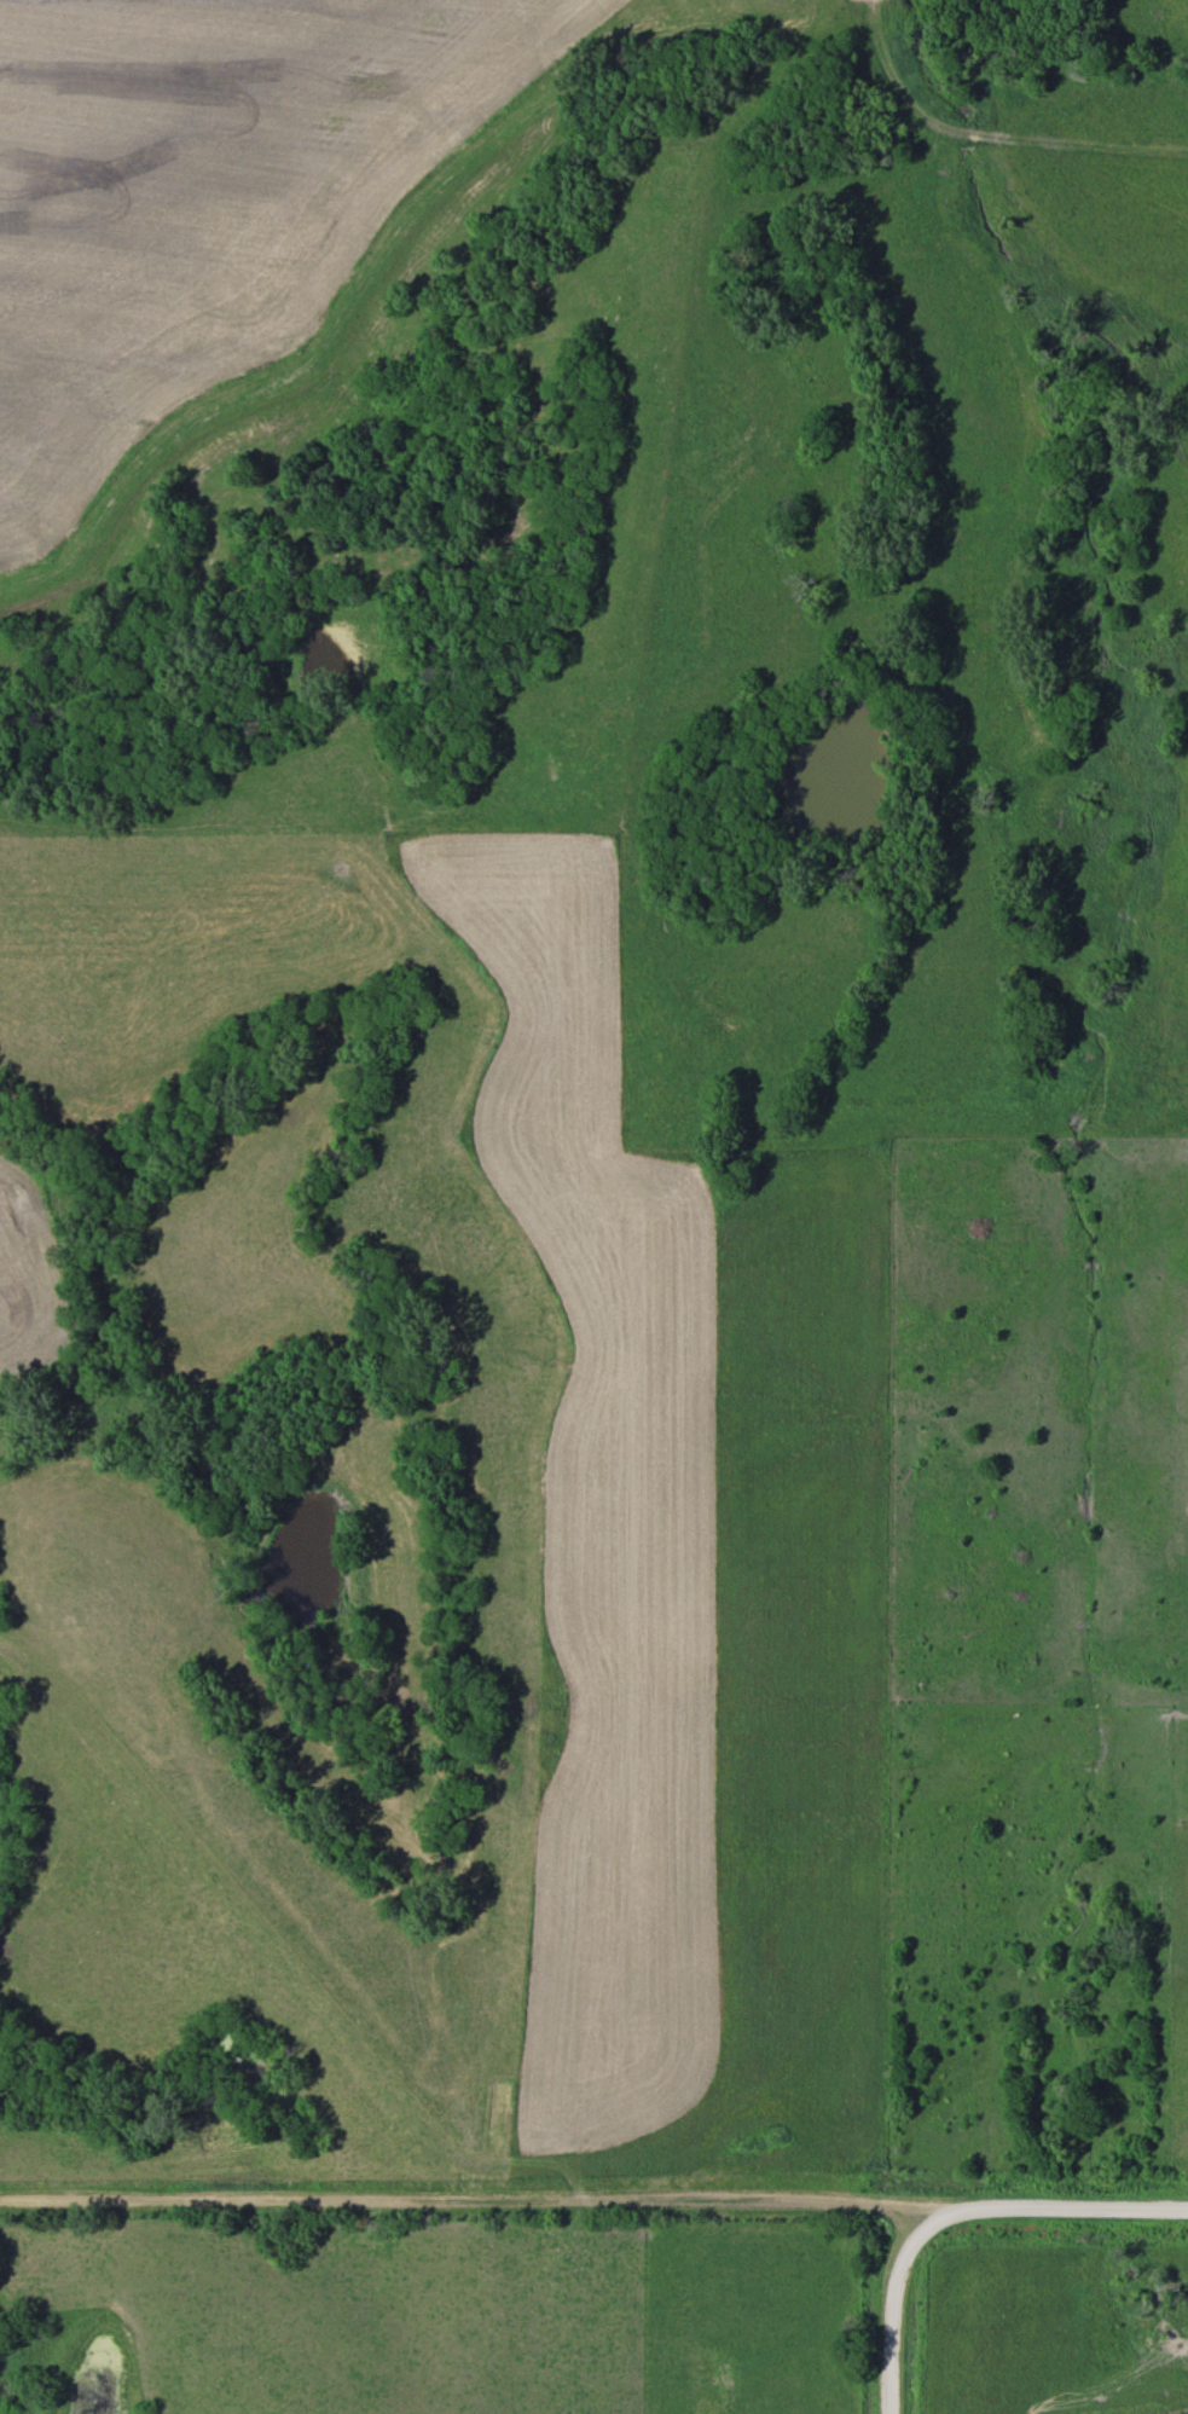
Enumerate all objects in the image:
road: (595, 2204)
road: (891, 2304)

